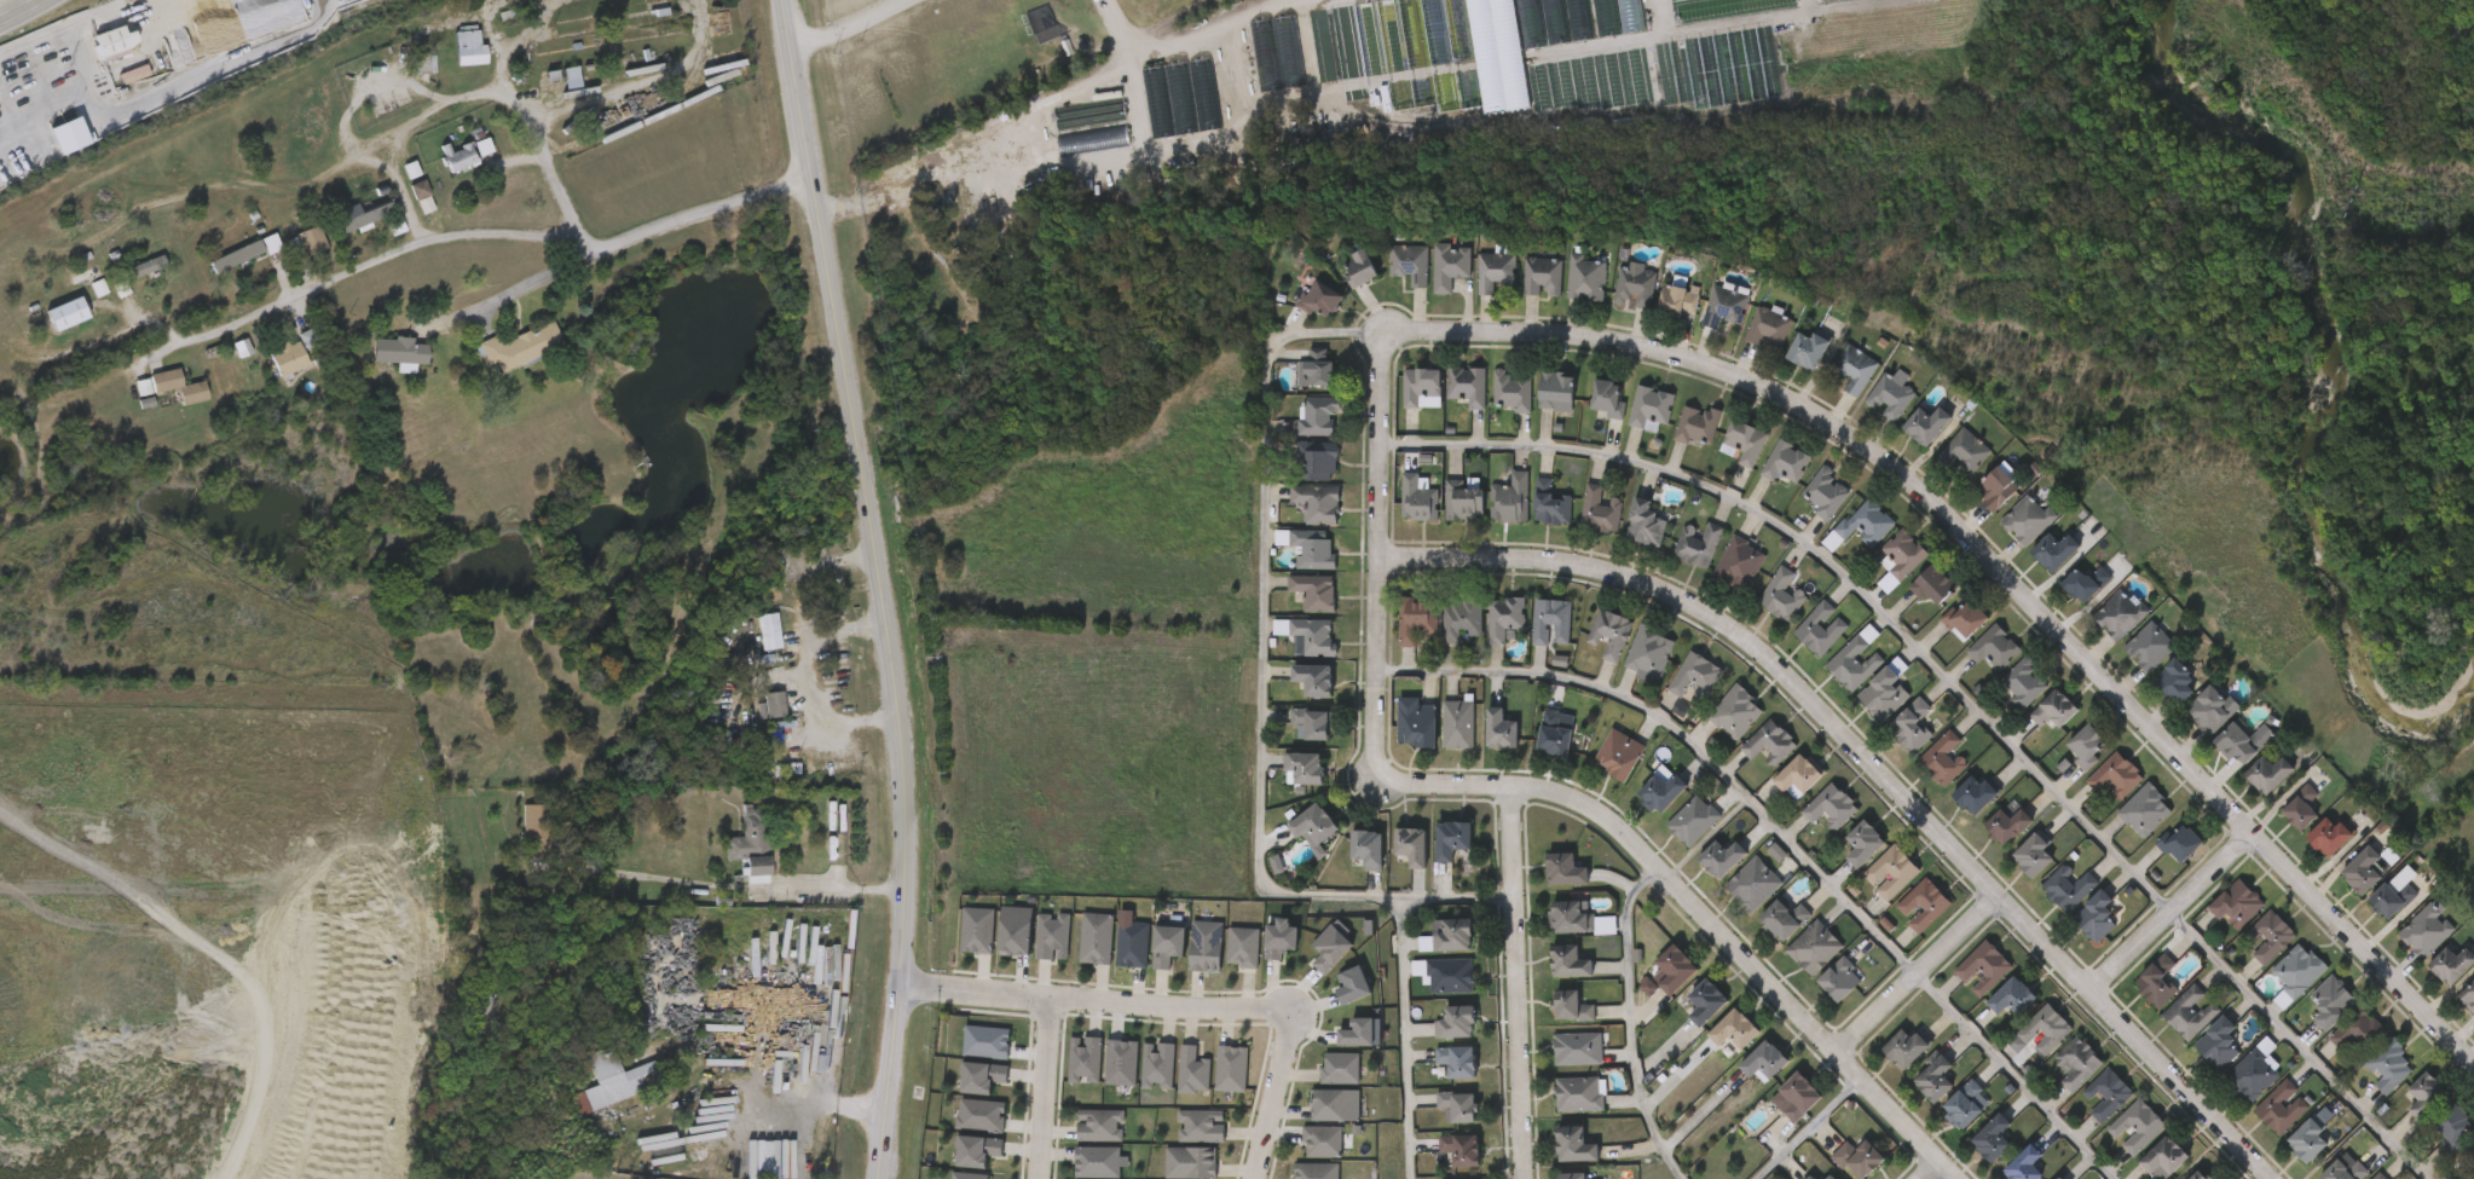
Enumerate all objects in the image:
road: (19, 10)
road: (850, 24)
building: (469, 47)
building: (93, 62)
building: (422, 63)
building: (447, 68)
building: (1276, 87)
building: (550, 99)
road: (1008, 131)
road: (405, 132)
building: (1079, 134)
building: (457, 156)
building: (1076, 163)
road: (548, 177)
building: (437, 178)
building: (389, 190)
building: (422, 196)
building: (370, 215)
building: (401, 216)
building: (395, 225)
building: (340, 236)
road: (635, 236)
building: (305, 241)
building: (244, 252)
building: (290, 261)
building: (1409, 264)
road: (362, 265)
building: (145, 266)
building: (1450, 266)
building: (1362, 270)
building: (1493, 271)
building: (215, 277)
building: (1542, 277)
building: (1585, 278)
building: (1388, 285)
building: (1635, 285)
building: (126, 287)
building: (1428, 288)
building: (1339, 289)
building: (1473, 293)
building: (1521, 297)
building: (1563, 300)
building: (1320, 301)
building: (1680, 301)
building: (1613, 306)
building: (1724, 307)
building: (1297, 322)
building: (1657, 322)
building: (1703, 326)
building: (1768, 330)
building: (46, 334)
building: (516, 349)
building: (1746, 349)
building: (1810, 349)
building: (295, 351)
building: (401, 351)
building: (499, 366)
building: (1319, 366)
building: (221, 368)
building: (1856, 368)
building: (1787, 370)
building: (378, 374)
building: (267, 378)
building: (1420, 385)
building: (1466, 385)
building: (179, 386)
building: (1510, 389)
building: (1294, 391)
building: (1834, 391)
building: (1556, 392)
building: (1890, 397)
building: (1609, 398)
building: (157, 408)
building: (1445, 408)
building: (1651, 408)
building: (1400, 409)
building: (1490, 412)
building: (1534, 414)
building: (1317, 415)
building: (1868, 417)
building: (1586, 421)
building: (1929, 423)
building: (1696, 424)
building: (1629, 428)
building: (1297, 438)
building: (1742, 441)
building: (1675, 446)
building: (1904, 446)
building: (1966, 451)
building: (1317, 458)
building: (1786, 462)
building: (1722, 464)
building: (1942, 473)
building: (1296, 480)
building: (1763, 484)
building: (1996, 487)
building: (1826, 493)
building: (1417, 495)
building: (1462, 499)
building: (1509, 499)
building: (1316, 503)
building: (1550, 504)
building: (1975, 509)
building: (1599, 510)
building: (1803, 514)
building: (2027, 518)
building: (1395, 520)
building: (1490, 520)
building: (1441, 522)
building: (1644, 522)
building: (1296, 524)
building: (1860, 524)
building: (1528, 526)
building: (1578, 532)
building: (2005, 541)
building: (1696, 544)
building: (1623, 545)
building: (1312, 548)
building: (1839, 548)
building: (2057, 548)
road: (1356, 554)
building: (1902, 554)
building: (1738, 564)
building: (1675, 566)
road: (1996, 568)
building: (1291, 570)
building: (2033, 572)
building: (1880, 576)
building: (2087, 582)
building: (1717, 584)
building: (1933, 584)
road: (884, 585)
building: (1313, 591)
building: (1781, 593)
building: (1865, 603)
building: (2063, 605)
building: (1911, 606)
building: (1293, 613)
building: (2118, 613)
building: (1759, 617)
building: (1505, 618)
building: (1415, 619)
building: (1966, 619)
building: (1459, 620)
building: (1551, 622)
road: (844, 625)
building: (1821, 628)
building: (768, 632)
building: (1609, 634)
building: (2097, 635)
building: (1311, 636)
building: (1439, 638)
building: (1482, 638)
building: (1394, 640)
building: (1942, 640)
building: (1530, 642)
building: (1994, 646)
building: (2150, 646)
building: (1798, 651)
building: (747, 652)
building: (1649, 652)
building: (1589, 654)
building: (1290, 658)
building: (1854, 661)
building: (2127, 667)
building: (1972, 669)
building: (1626, 674)
building: (1694, 678)
road: (1261, 680)
building: (1316, 680)
building: (2180, 680)
building: (1833, 681)
building: (2024, 684)
road: (1956, 688)
building: (1884, 694)
building: (1294, 699)
building: (1675, 699)
building: (2154, 703)
building: (2001, 704)
building: (775, 705)
building: (2054, 709)
building: (2213, 710)
building: (1863, 711)
building: (1735, 712)
road: (852, 718)
building: (1313, 723)
building: (750, 726)
building: (1911, 726)
building: (2031, 730)
building: (2190, 730)
building: (1713, 733)
building: (1394, 741)
building: (2245, 741)
building: (1438, 742)
building: (1768, 744)
building: (1291, 745)
building: (2088, 745)
building: (1889, 747)
building: (1480, 751)
building: (1533, 753)
building: (1619, 753)
building: (1943, 758)
building: (2220, 762)
building: (1747, 763)
building: (1305, 767)
building: (2064, 768)
building: (2267, 771)
building: (1597, 775)
building: (2116, 776)
building: (1798, 778)
building: (1921, 780)
road: (1850, 784)
building: (1282, 788)
building: (1663, 788)
building: (1975, 793)
building: (2248, 796)
building: (1776, 797)
building: (2093, 797)
building: (1831, 807)
building: (2295, 808)
building: (2145, 810)
building: (1638, 814)
building: (1954, 814)
building: (1692, 820)
building: (2010, 822)
building: (534, 823)
building: (1314, 826)
building: (1809, 827)
building: (2279, 830)
building: (2122, 831)
road: (1780, 833)
building: (2322, 836)
building: (1456, 840)
building: (1671, 842)
building: (2180, 842)
building: (1865, 843)
building: (514, 844)
building: (1412, 845)
building: (1984, 846)
building: (753, 848)
building: (1293, 848)
building: (1369, 848)
building: (2046, 848)
building: (728, 855)
building: (1723, 856)
building: (2306, 857)
building: (1432, 860)
building: (2156, 863)
building: (1842, 865)
building: (1391, 866)
building: (1568, 867)
building: (1347, 869)
building: (1891, 871)
building: (2360, 873)
building: (2011, 874)
building: (1700, 879)
building: (1753, 883)
road: (716, 884)
building: (2069, 888)
building: (735, 890)
building: (1544, 890)
building: (1869, 892)
building: (2393, 897)
building: (2231, 902)
building: (1732, 905)
building: (1923, 905)
road: (191, 906)
building: (2046, 908)
road: (1696, 912)
building: (2099, 915)
building: (1578, 917)
building: (1786, 919)
road: (2161, 923)
building: (2214, 925)
building: (977, 926)
building: (1015, 926)
building: (1902, 926)
building: (2421, 929)
building: (1053, 931)
building: (1455, 932)
building: (1278, 935)
building: (2265, 937)
building: (1096, 938)
building: (1556, 938)
building: (2074, 938)
building: (1762, 940)
building: (1132, 944)
building: (1168, 946)
building: (1206, 947)
building: (1330, 947)
building: (1243, 948)
building: (1814, 948)
building: (956, 950)
building: (995, 950)
building: (1031, 957)
building: (1427, 957)
building: (2248, 957)
building: (1075, 958)
building: (1259, 959)
building: (1574, 959)
building: (1111, 964)
building: (2445, 964)
building: (1146, 966)
building: (1185, 966)
building: (1221, 966)
building: (1677, 966)
building: (1792, 967)
building: (1310, 969)
building: (1982, 969)
building: (2293, 970)
building: (1452, 973)
building: (1839, 981)
building: (1548, 982)
building: (2151, 982)
building: (1352, 984)
road: (1906, 984)
road: (1516, 986)
building: (1961, 988)
building: (1652, 990)
building: (2272, 995)
building: (2468, 995)
building: (1428, 996)
building: (2013, 996)
building: (1817, 999)
building: (1707, 1000)
road: (1097, 1001)
building: (2134, 1002)
building: (2326, 1002)
building: (1331, 1005)
building: (1573, 1005)
building: (1625, 1007)
building: (2186, 1012)
building: (1990, 1018)
building: (1458, 1019)
building: (1684, 1023)
road: (1628, 1024)
building: (1549, 1027)
building: (1735, 1027)
building: (468, 1028)
building: (2044, 1029)
building: (1356, 1031)
building: (2354, 1031)
road: (1405, 1034)
building: (2167, 1034)
building: (984, 1039)
building: (1435, 1042)
building: (2213, 1044)
building: (1577, 1047)
building: (1906, 1047)
building: (1712, 1050)
building: (1337, 1052)
building: (2019, 1052)
building: (1085, 1056)
building: (1122, 1057)
building: (1459, 1058)
building: (1764, 1060)
building: (965, 1062)
building: (2077, 1062)
building: (2196, 1064)
building: (1156, 1065)
building: (1339, 1067)
building: (2386, 1067)
building: (1884, 1068)
building: (1231, 1069)
building: (1556, 1069)
building: (1192, 1070)
building: (979, 1075)
building: (2248, 1075)
building: (1936, 1077)
road: (793, 1079)
building: (1064, 1079)
building: (1437, 1081)
building: (1100, 1082)
building: (1742, 1082)
building: (2054, 1083)
building: (1137, 1085)
road: (1047, 1088)
building: (1210, 1088)
building: (1319, 1088)
building: (1172, 1091)
building: (1579, 1092)
building: (1799, 1094)
building: (2108, 1094)
building: (2424, 1096)
building: (961, 1097)
road: (1272, 1097)
building: (1912, 1097)
building: (590, 1103)
building: (1459, 1104)
building: (1965, 1104)
building: (1337, 1105)
building: (2277, 1106)
building: (981, 1112)
building: (1559, 1114)
building: (2085, 1115)
building: (1778, 1116)
building: (1100, 1125)
building: (1314, 1125)
building: (1200, 1127)
building: (1437, 1127)
road: (1804, 1127)
building: (1943, 1127)
building: (2137, 1127)
building: (2455, 1128)
building: (960, 1135)
building: (1993, 1137)
building: (1576, 1140)
building: (2304, 1140)
building: (1324, 1143)
building: (1079, 1145)
building: (1180, 1145)
building: (2114, 1146)
building: (1463, 1148)
building: (976, 1149)
building: (1857, 1156)
building: (2166, 1157)
building: (1097, 1158)
building: (1970, 1158)
building: (1301, 1161)
building: (1189, 1163)
building: (2027, 1163)
building: (1439, 1166)
road: (1929, 1169)
building: (1318, 1171)
building: (2144, 1171)
building: (2339, 1171)
building: (1822, 1173)
building: (966, 1174)
building: (1572, 1174)
building: (2198, 1175)
building: (2374, 1175)
building: (1087, 1178)
building: (1463, 1178)
building: (2060, 1178)

